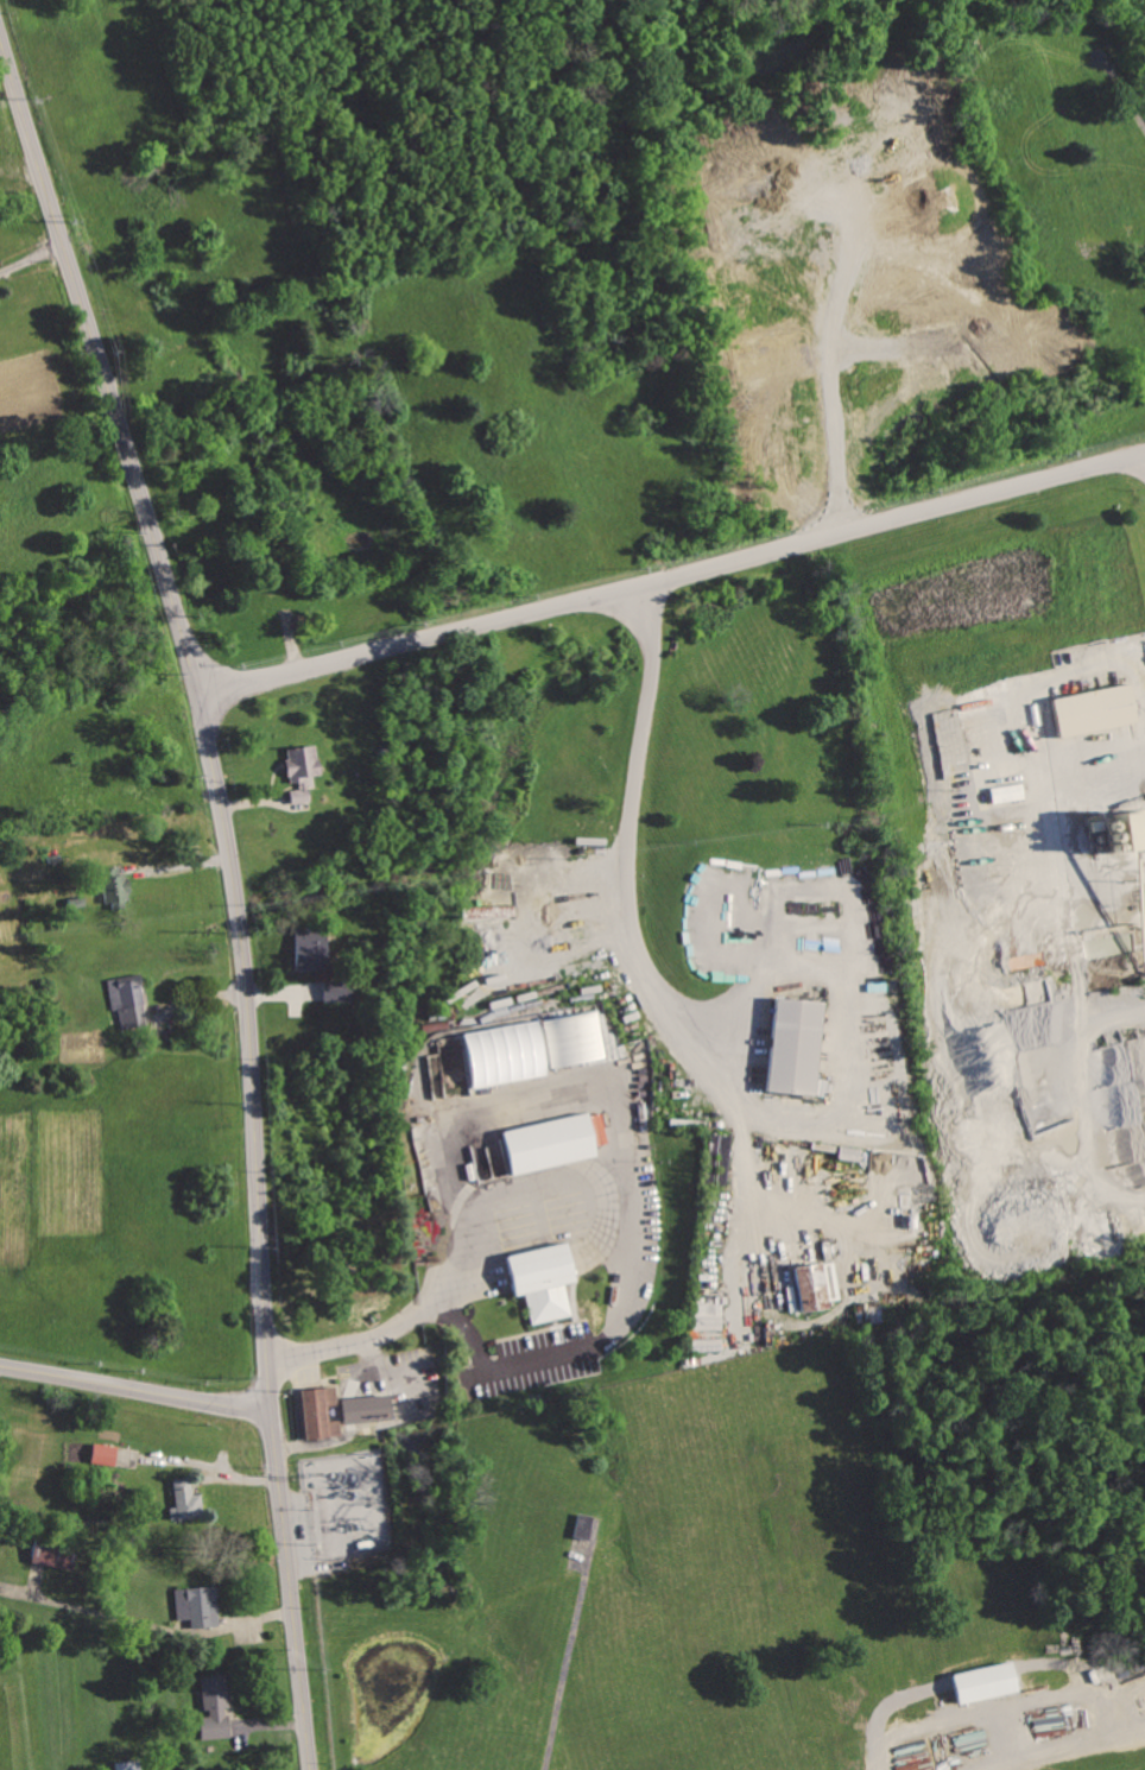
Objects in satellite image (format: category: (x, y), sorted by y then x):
road: (1122, 91)
road: (31, 255)
road: (672, 574)
road: (1037, 683)
building: (1092, 712)
road: (1103, 770)
building: (304, 771)
building: (1010, 791)
building: (1133, 828)
road: (635, 842)
road: (1076, 865)
building: (113, 886)
road: (236, 891)
building: (311, 948)
building: (337, 990)
building: (131, 999)
building: (571, 1041)
building: (786, 1047)
building: (502, 1052)
road: (626, 1096)
building: (546, 1143)
building: (538, 1279)
building: (814, 1284)
road: (317, 1349)
road: (396, 1368)
road: (135, 1390)
building: (366, 1408)
building: (322, 1412)
building: (106, 1453)
building: (186, 1498)
power substation: (350, 1507)
building: (582, 1525)
building: (52, 1548)
building: (198, 1604)
road: (145, 1620)
building: (988, 1679)
building: (216, 1707)
building: (127, 1764)

